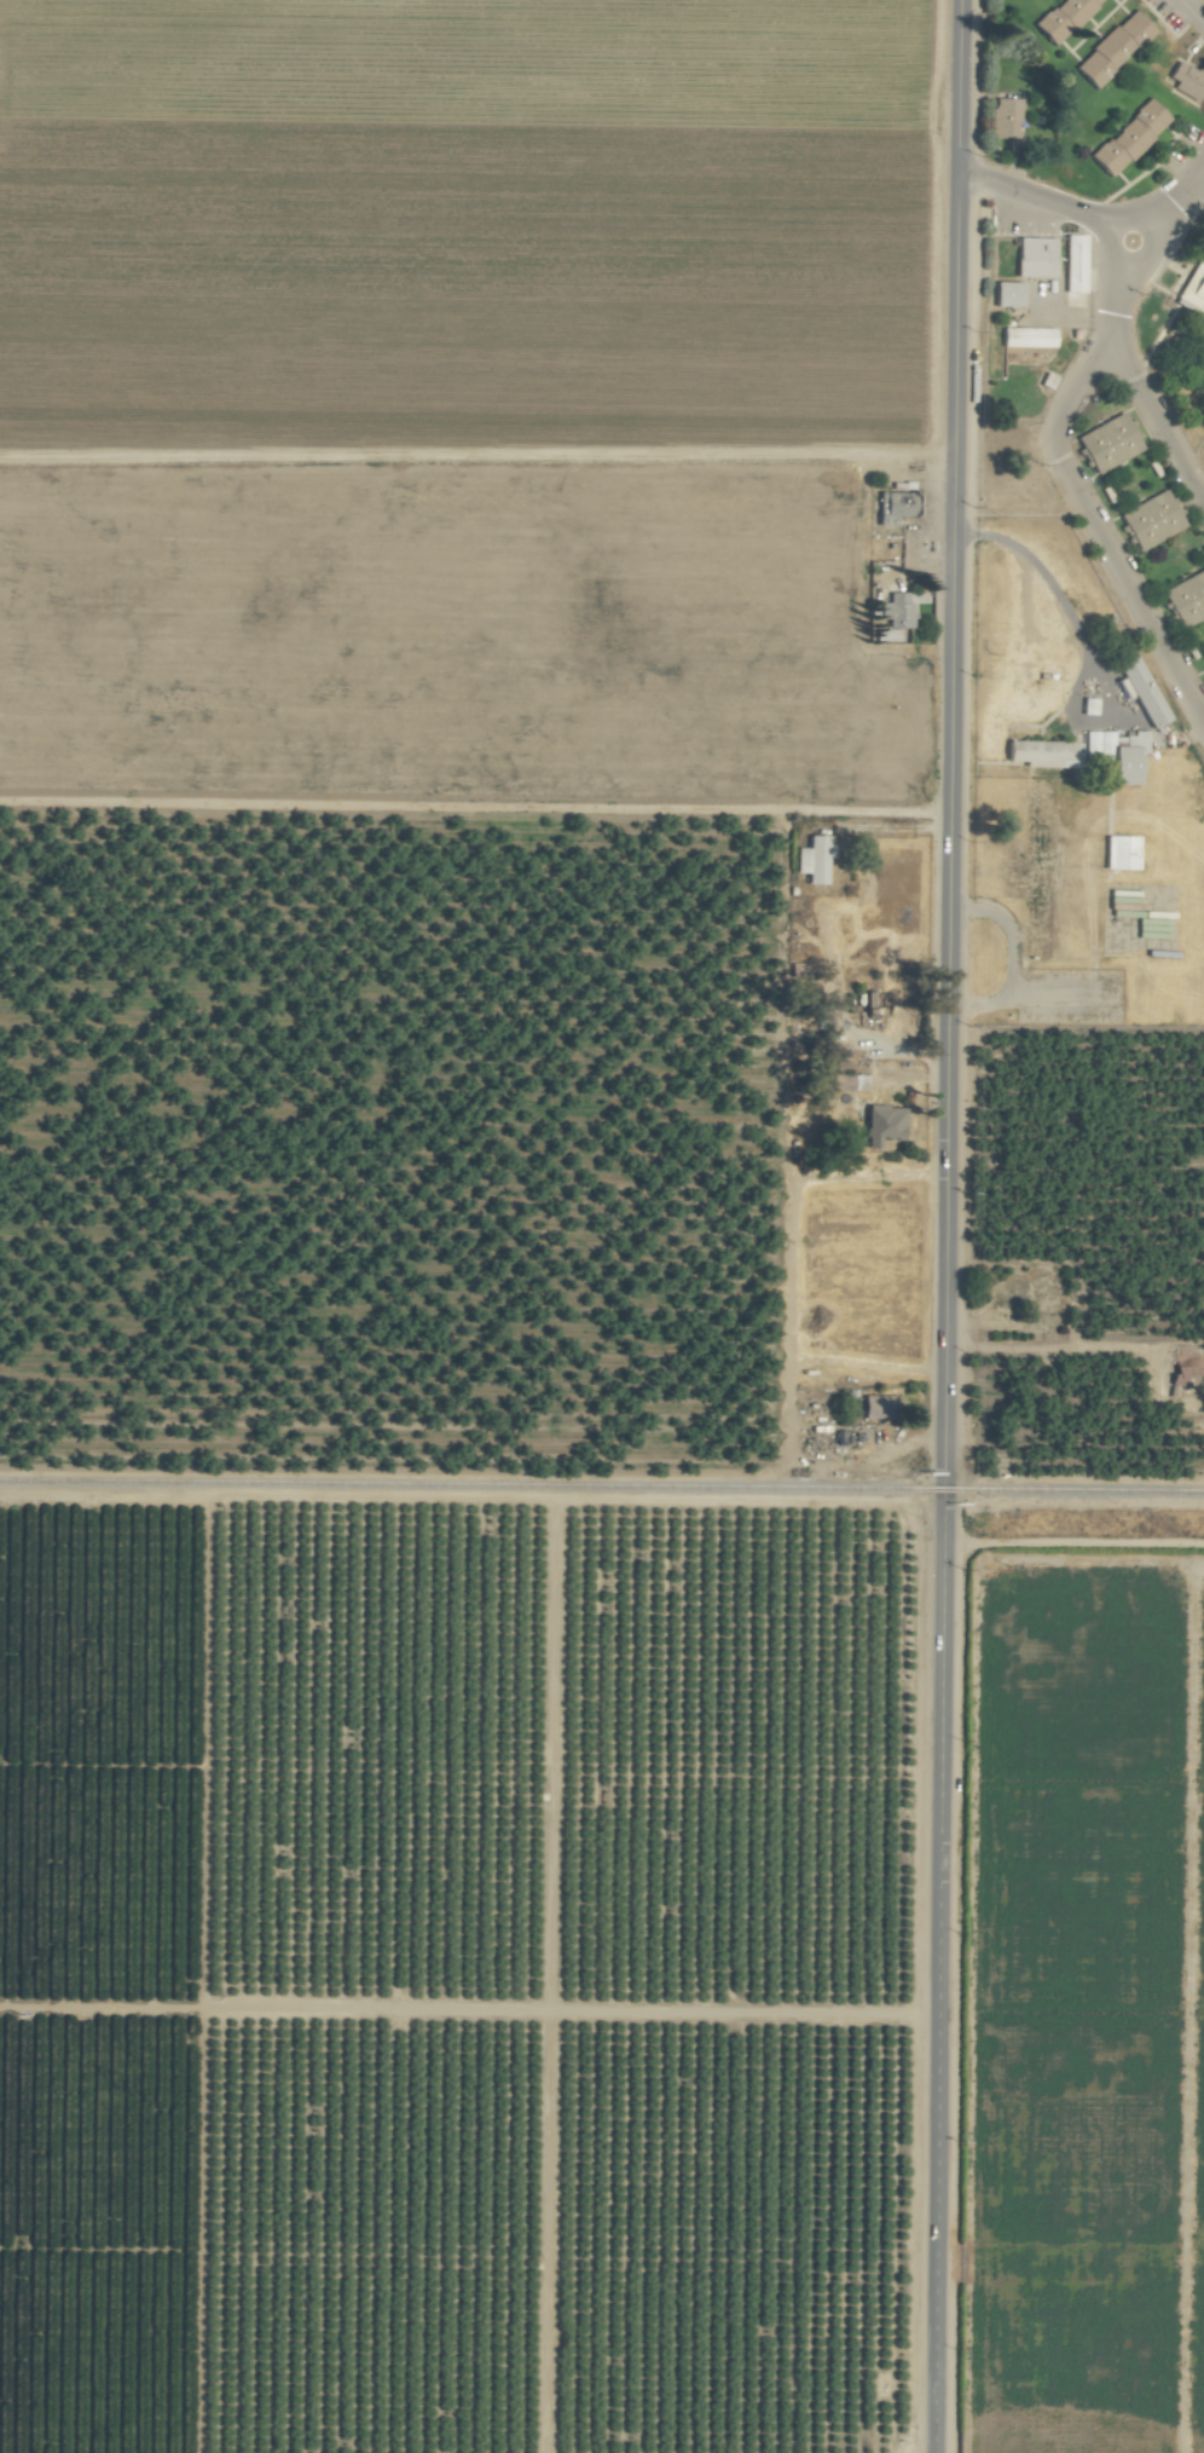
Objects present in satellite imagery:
road: (1189, 15)
building: (1063, 18)
building: (1112, 50)
building: (1186, 82)
building: (1003, 117)
building: (1128, 137)
road: (1198, 183)
road: (1032, 194)
road: (1179, 195)
road: (1154, 252)
building: (1034, 256)
building: (1073, 262)
building: (1192, 292)
building: (1006, 294)
building: (1026, 336)
road: (1153, 428)
building: (1106, 443)
road: (1077, 501)
building: (895, 507)
building: (1151, 520)
building: (1186, 599)
building: (893, 618)
road: (1082, 639)
building: (1203, 668)
building: (1141, 692)
building: (1087, 706)
building: (1042, 754)
building: (1115, 754)
building: (1035, 800)
building: (1119, 853)
building: (811, 860)
building: (847, 1083)
building: (881, 1125)
road: (944, 1225)
crop: (560, 1287)
building: (1182, 1367)
building: (873, 1407)
railway: (601, 1487)
road: (1072, 1542)

